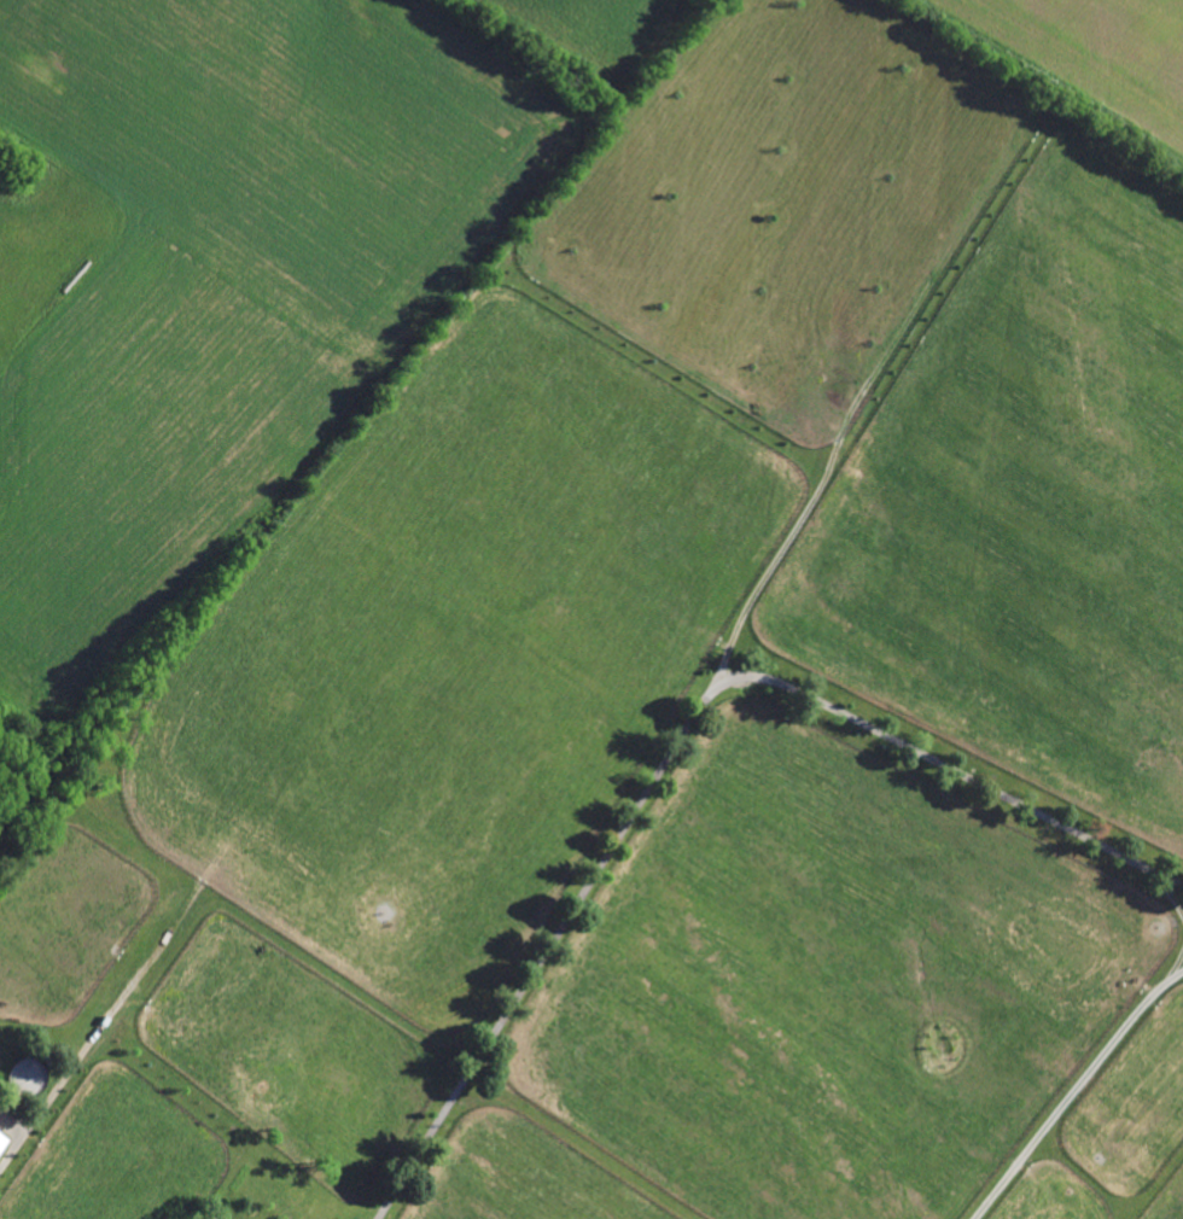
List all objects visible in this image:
road: (682, 731)
road: (1076, 1091)
building: (1, 1138)

